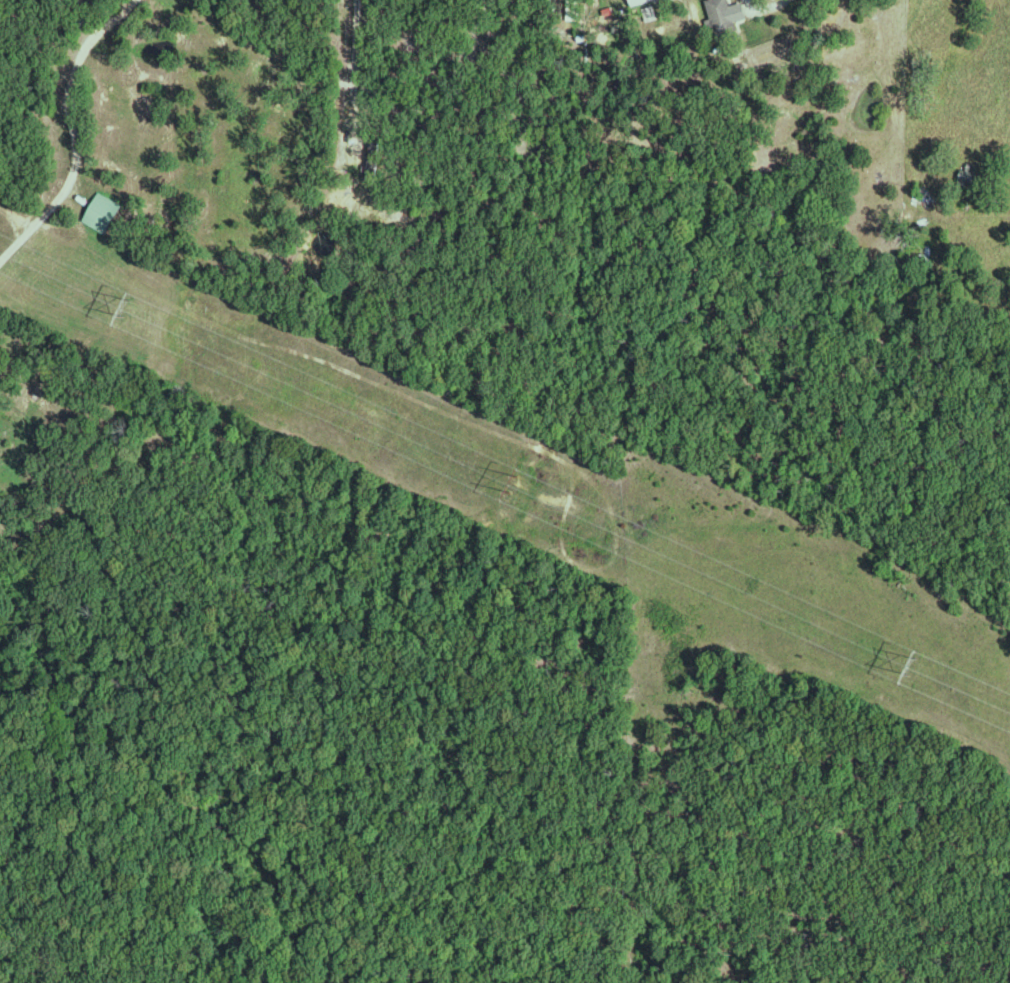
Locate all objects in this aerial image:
building: (639, 1)
road: (759, 9)
building: (653, 12)
building: (728, 15)
road: (73, 132)
building: (104, 211)
road: (13, 221)
power tower: (123, 307)
power tower: (511, 487)
power tower: (908, 669)

